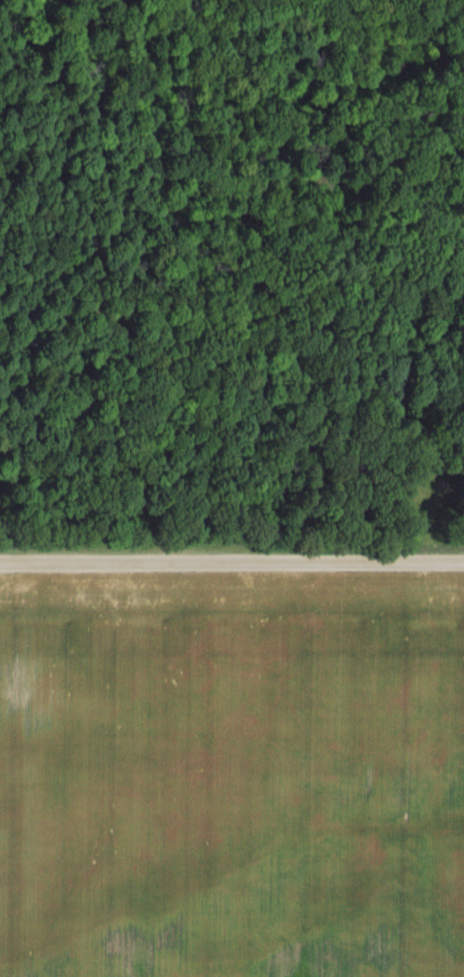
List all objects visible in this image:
road: (232, 562)

